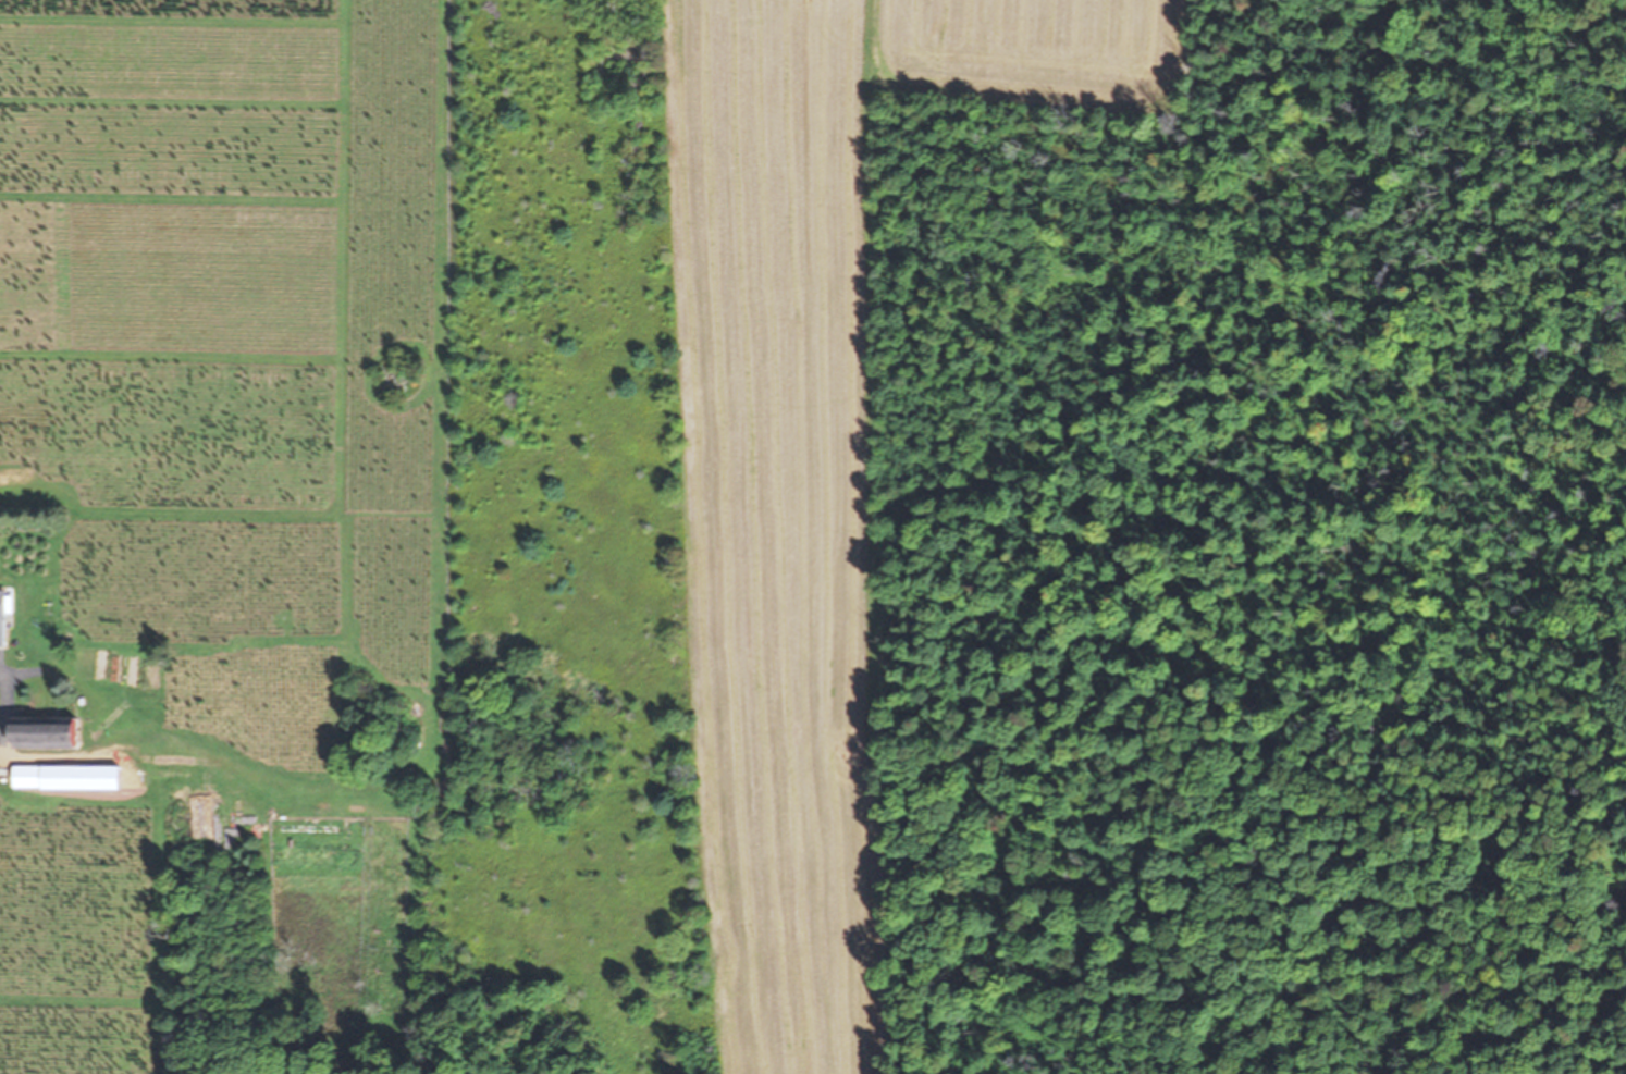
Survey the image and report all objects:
building: (4, 617)
building: (52, 734)
building: (30, 777)

